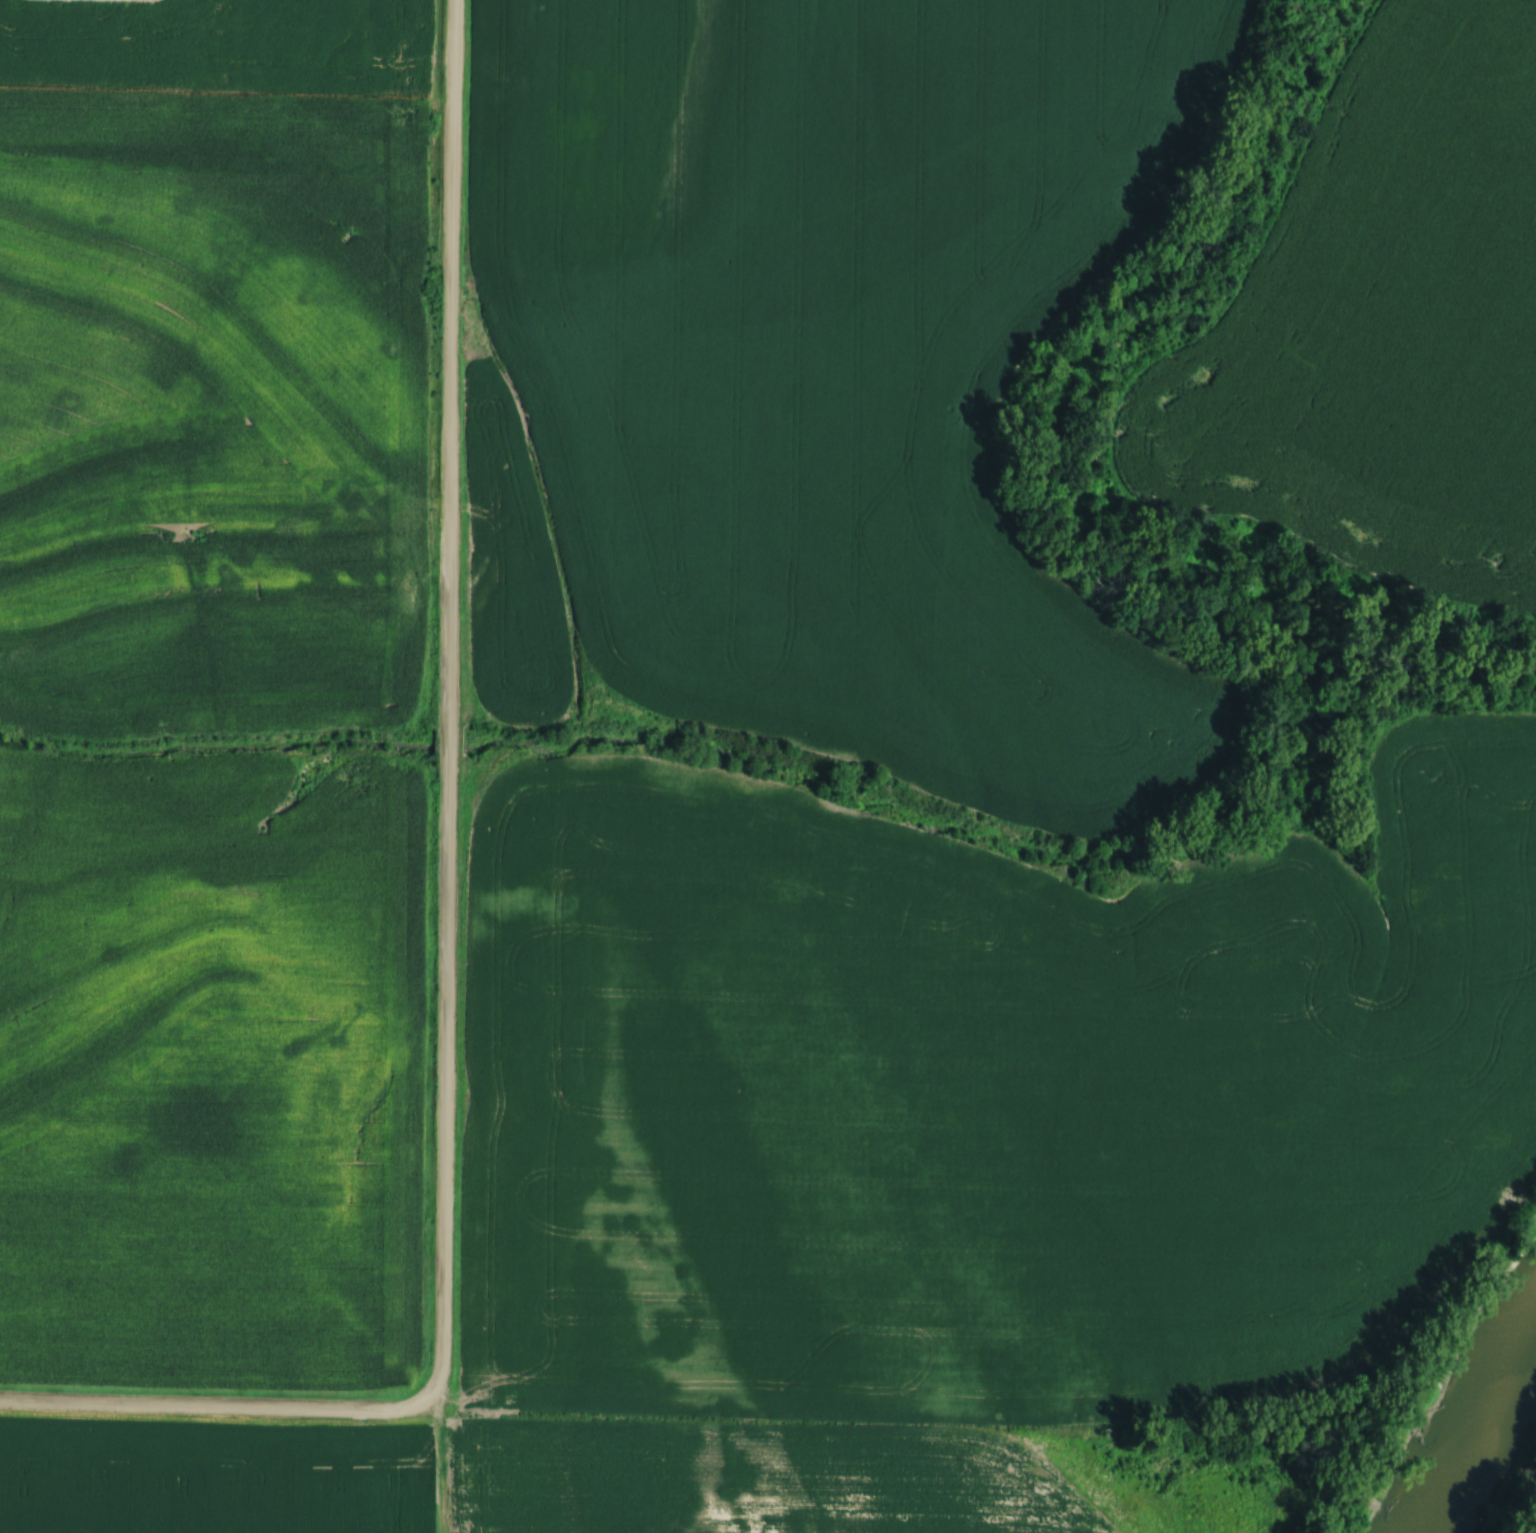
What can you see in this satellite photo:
airport: (232, 50)
road: (449, 364)
road: (445, 746)
road: (449, 1085)
road: (212, 1411)
river: (1473, 1429)

